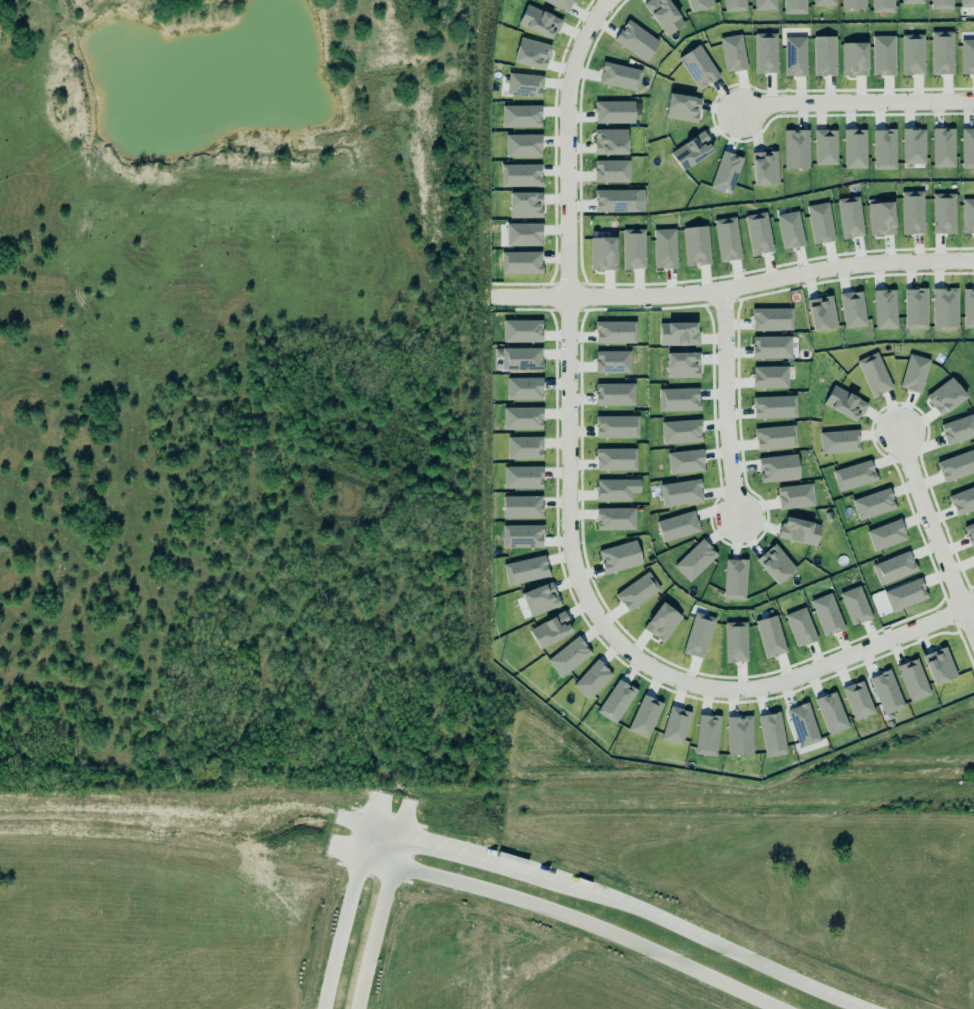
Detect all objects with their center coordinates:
building: (912, 1)
building: (823, 2)
building: (562, 3)
building: (967, 3)
building: (699, 4)
building: (853, 4)
building: (941, 4)
building: (734, 5)
building: (765, 5)
building: (794, 6)
building: (882, 6)
building: (664, 14)
building: (539, 20)
building: (637, 39)
building: (531, 50)
building: (731, 51)
building: (940, 51)
building: (765, 53)
building: (912, 54)
building: (883, 55)
building: (824, 56)
building: (967, 56)
building: (795, 57)
building: (854, 59)
building: (697, 65)
building: (621, 75)
building: (525, 83)
road: (854, 104)
building: (682, 108)
building: (614, 110)
building: (521, 116)
building: (610, 141)
building: (522, 145)
building: (941, 145)
building: (853, 146)
building: (914, 146)
building: (825, 147)
building: (967, 148)
building: (796, 149)
building: (884, 149)
building: (691, 151)
building: (764, 168)
building: (611, 171)
building: (726, 172)
building: (521, 175)
building: (616, 200)
building: (525, 204)
building: (916, 211)
building: (948, 211)
building: (968, 216)
building: (852, 217)
building: (879, 217)
building: (820, 223)
building: (789, 228)
building: (758, 233)
building: (523, 234)
building: (727, 239)
building: (696, 245)
building: (663, 246)
building: (633, 249)
building: (602, 253)
building: (519, 261)
road: (733, 287)
building: (888, 306)
building: (919, 306)
building: (951, 307)
building: (855, 308)
building: (968, 308)
building: (822, 313)
building: (772, 319)
building: (524, 329)
building: (678, 330)
building: (619, 331)
building: (771, 347)
building: (524, 356)
building: (615, 359)
building: (682, 365)
building: (914, 373)
building: (874, 375)
building: (770, 377)
building: (528, 385)
building: (617, 391)
building: (945, 396)
building: (678, 399)
building: (844, 403)
road: (719, 405)
building: (774, 407)
building: (523, 417)
building: (618, 424)
building: (958, 427)
building: (681, 431)
building: (778, 435)
building: (839, 441)
building: (525, 445)
building: (616, 459)
building: (684, 460)
building: (957, 465)
building: (780, 467)
building: (858, 473)
building: (522, 477)
building: (616, 489)
building: (684, 490)
building: (798, 494)
building: (963, 500)
building: (877, 503)
building: (522, 506)
building: (615, 518)
road: (561, 520)
building: (683, 523)
building: (801, 528)
building: (970, 533)
building: (886, 535)
building: (522, 536)
road: (931, 540)
building: (619, 557)
building: (776, 559)
building: (698, 560)
building: (893, 567)
building: (525, 570)
building: (738, 576)
building: (637, 591)
building: (905, 595)
building: (540, 599)
building: (855, 605)
building: (825, 613)
building: (662, 622)
building: (800, 627)
building: (550, 630)
building: (698, 635)
building: (770, 636)
building: (736, 642)
building: (568, 656)
building: (939, 666)
building: (592, 679)
building: (913, 680)
building: (886, 692)
building: (615, 699)
building: (856, 699)
building: (829, 711)
building: (644, 714)
building: (675, 725)
building: (803, 725)
building: (705, 733)
building: (772, 734)
building: (739, 735)
road: (375, 810)
road: (403, 818)
road: (353, 822)
road: (384, 832)
road: (347, 847)
road: (636, 913)
road: (344, 917)
road: (573, 920)
road: (376, 922)

